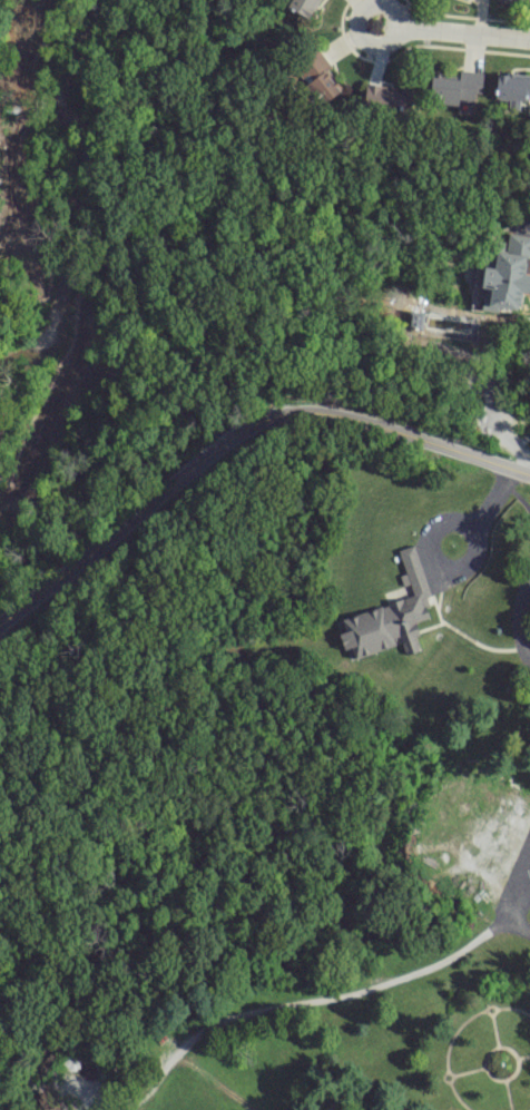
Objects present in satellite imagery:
road: (460, 37)
road: (374, 39)
road: (237, 431)
road: (430, 537)
road: (518, 613)
road: (511, 886)
road: (315, 998)

